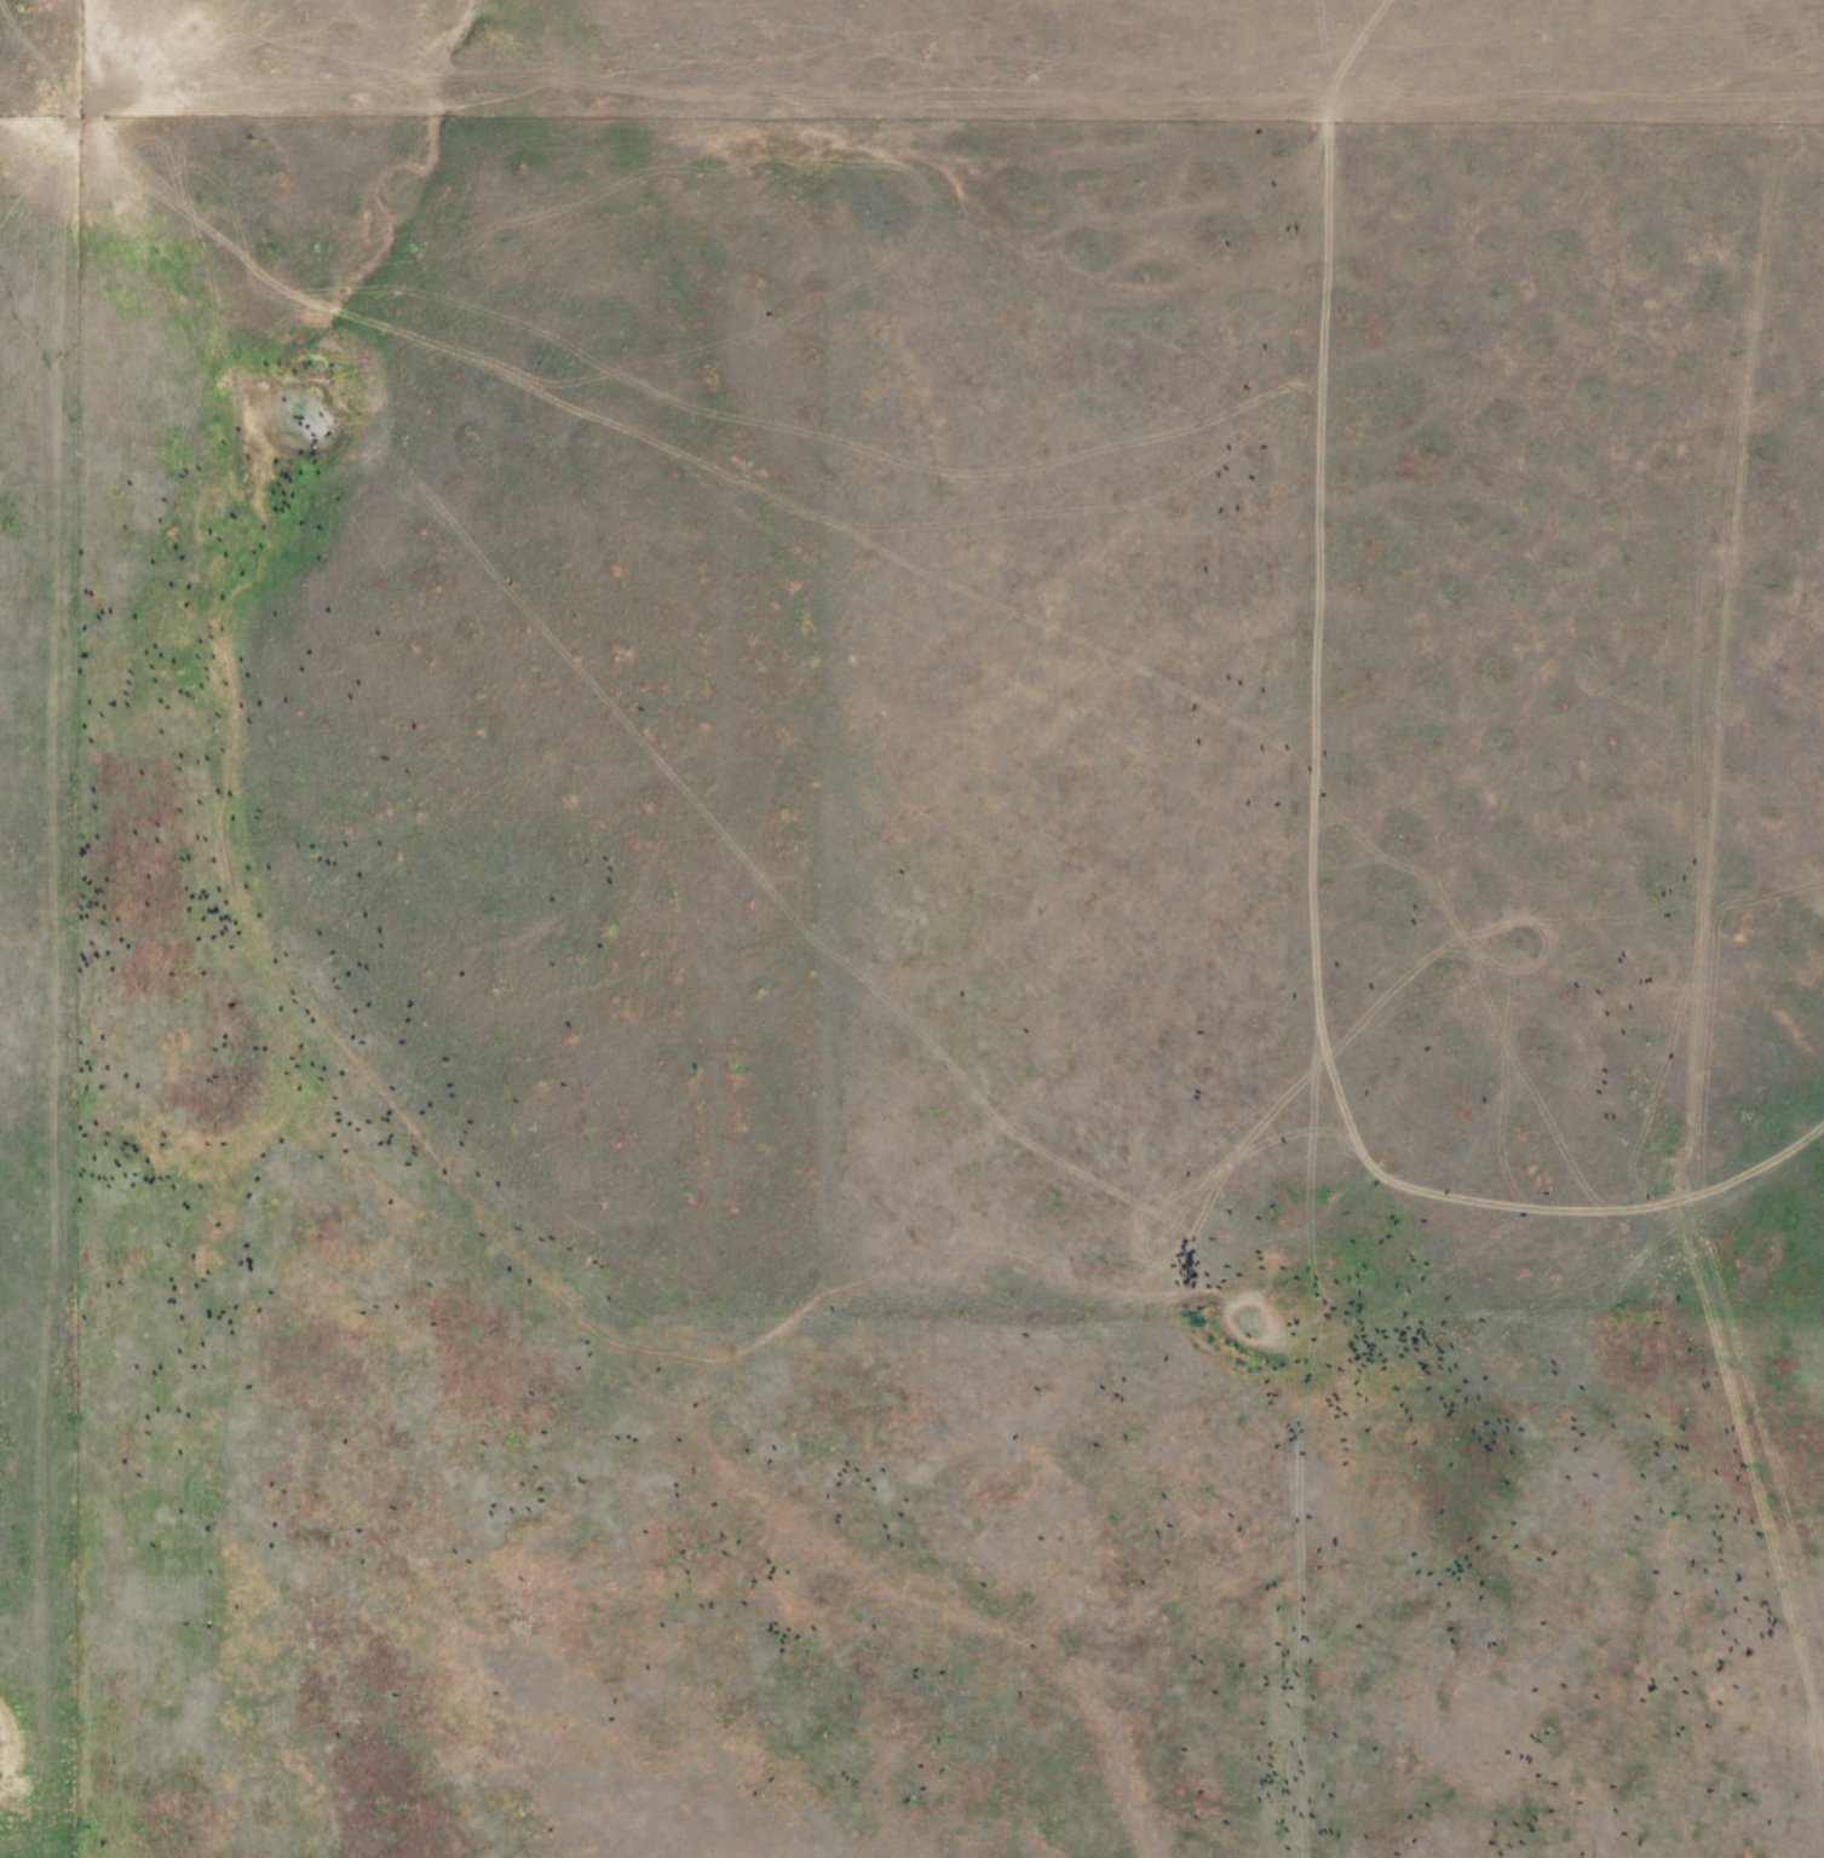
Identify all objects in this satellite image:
road: (1305, 804)
road: (47, 826)

